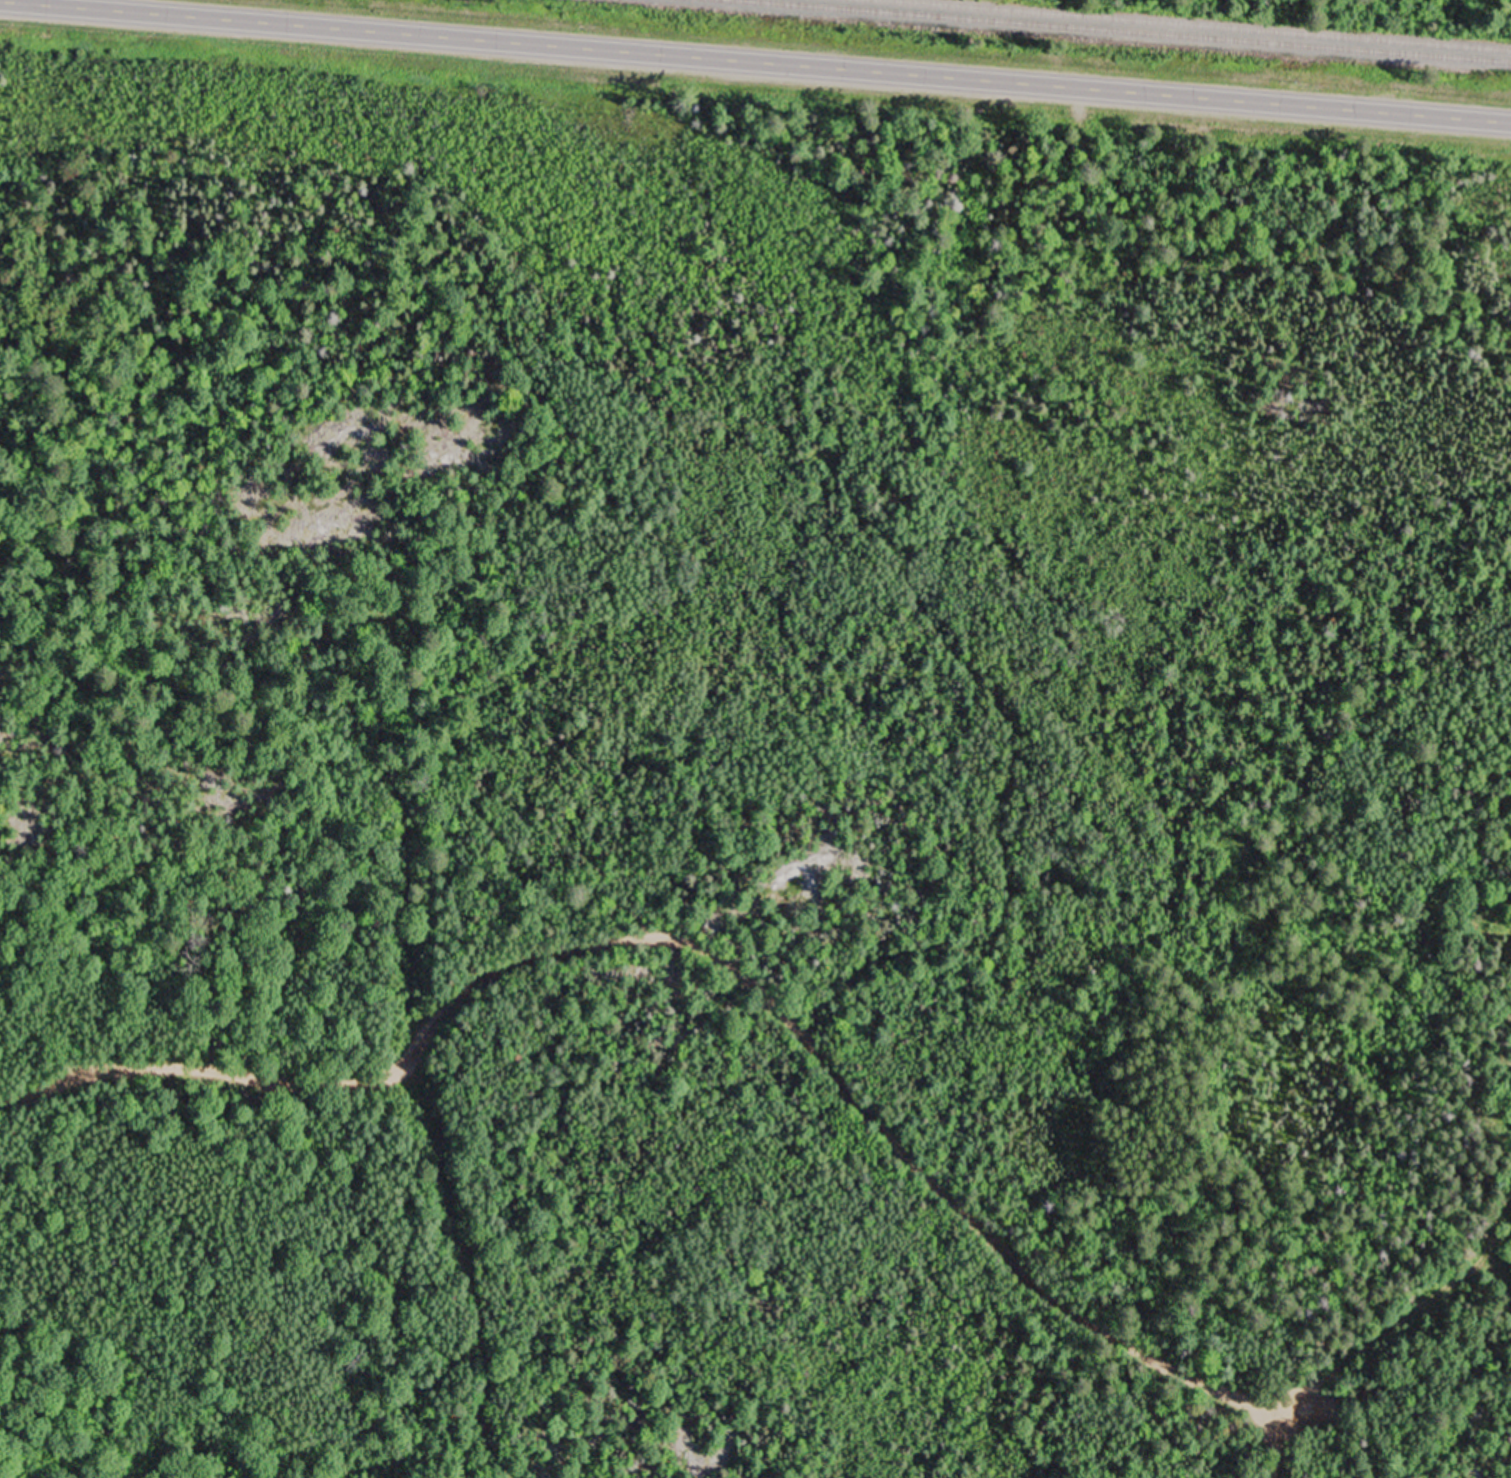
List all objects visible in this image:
railway: (1184, 25)
railway: (1109, 32)
road: (755, 63)
road: (719, 956)
road: (1490, 1267)
road: (1402, 1320)

